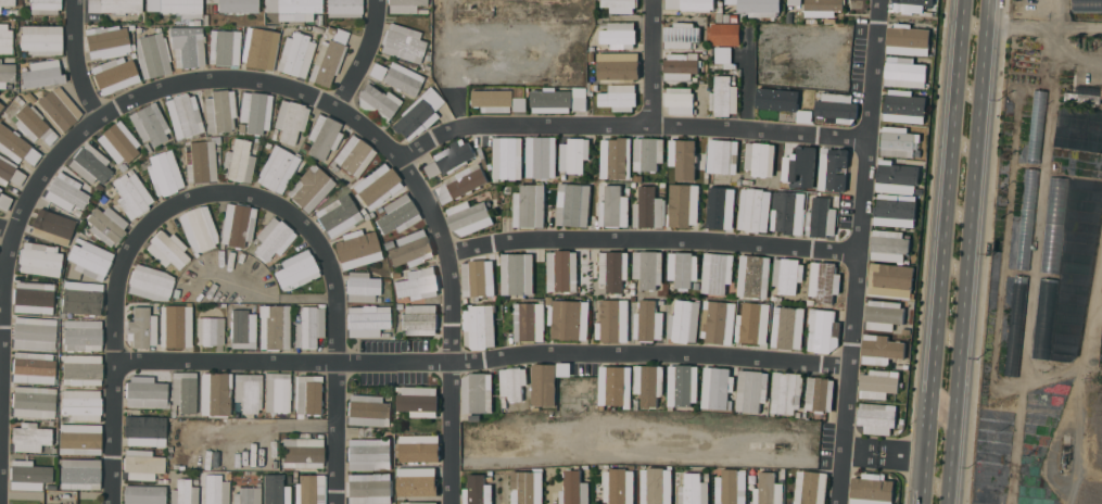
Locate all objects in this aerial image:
building: (7, 2)
building: (794, 2)
building: (691, 4)
building: (45, 5)
building: (114, 5)
building: (236, 5)
building: (620, 5)
building: (823, 5)
building: (907, 5)
building: (1086, 5)
building: (177, 7)
building: (406, 7)
building: (757, 7)
building: (293, 8)
building: (344, 8)
building: (4, 11)
building: (618, 34)
building: (724, 34)
building: (682, 35)
building: (5, 39)
building: (41, 39)
building: (908, 39)
building: (107, 40)
building: (403, 42)
building: (188, 46)
building: (225, 47)
building: (261, 51)
building: (152, 54)
building: (296, 54)
building: (329, 56)
road: (363, 56)
building: (724, 56)
building: (0, 59)
road: (72, 61)
road: (650, 61)
building: (618, 66)
building: (681, 66)
building: (377, 70)
building: (47, 71)
building: (904, 73)
building: (7, 74)
building: (114, 74)
building: (402, 78)
road: (267, 85)
road: (747, 91)
building: (1085, 94)
building: (724, 96)
building: (618, 97)
building: (499, 99)
building: (559, 99)
building: (680, 100)
building: (777, 100)
building: (378, 103)
building: (1, 105)
building: (904, 106)
building: (836, 108)
building: (59, 109)
building: (220, 111)
building: (256, 111)
building: (805, 113)
building: (418, 114)
building: (185, 115)
building: (290, 119)
building: (150, 123)
building: (34, 124)
road: (521, 124)
building: (1036, 127)
road: (760, 130)
building: (324, 136)
building: (118, 141)
building: (899, 142)
building: (15, 146)
building: (647, 153)
building: (354, 155)
building: (573, 155)
building: (449, 157)
building: (541, 157)
building: (721, 157)
building: (507, 159)
building: (615, 159)
building: (759, 159)
building: (685, 160)
building: (201, 161)
building: (239, 161)
building: (797, 162)
building: (90, 163)
building: (278, 167)
building: (835, 167)
building: (10, 172)
building: (164, 173)
building: (896, 177)
building: (461, 182)
building: (378, 185)
building: (311, 187)
building: (0, 188)
building: (0, 190)
building: (66, 192)
road: (226, 192)
building: (131, 193)
building: (4, 200)
building: (572, 204)
building: (683, 205)
building: (529, 206)
building: (613, 207)
building: (647, 209)
building: (719, 210)
building: (753, 210)
building: (895, 210)
building: (788, 212)
building: (338, 214)
building: (397, 214)
building: (468, 217)
building: (821, 218)
building: (1026, 218)
building: (238, 224)
building: (51, 225)
building: (106, 225)
building: (1054, 225)
building: (199, 228)
road: (5, 230)
building: (274, 238)
road: (653, 241)
building: (889, 245)
building: (357, 248)
building: (168, 249)
building: (410, 249)
road: (942, 251)
road: (861, 252)
road: (968, 252)
building: (39, 259)
building: (90, 259)
building: (647, 268)
building: (296, 269)
building: (682, 269)
building: (561, 270)
building: (612, 270)
building: (717, 273)
building: (516, 274)
building: (787, 275)
building: (753, 277)
building: (477, 278)
building: (824, 281)
building: (890, 281)
building: (150, 282)
building: (418, 283)
building: (362, 286)
building: (34, 297)
building: (83, 301)
building: (884, 314)
building: (1044, 318)
building: (419, 319)
building: (568, 319)
building: (368, 320)
building: (528, 322)
building: (612, 322)
building: (648, 322)
building: (684, 322)
building: (719, 323)
building: (177, 325)
building: (480, 325)
building: (1015, 325)
building: (275, 326)
building: (309, 326)
building: (142, 327)
building: (787, 327)
building: (243, 328)
building: (210, 330)
building: (753, 330)
building: (823, 330)
building: (35, 332)
building: (83, 335)
building: (881, 349)
road: (650, 355)
road: (224, 360)
road: (393, 360)
building: (33, 367)
building: (81, 368)
building: (562, 369)
building: (511, 383)
building: (648, 383)
building: (543, 385)
building: (877, 385)
building: (615, 386)
building: (682, 386)
building: (715, 387)
building: (751, 390)
building: (145, 391)
building: (249, 391)
building: (278, 391)
building: (183, 392)
building: (477, 392)
building: (786, 392)
building: (216, 393)
building: (819, 394)
building: (308, 395)
building: (34, 401)
building: (418, 401)
building: (81, 403)
building: (368, 409)
building: (876, 417)
building: (145, 429)
building: (30, 437)
building: (80, 438)
building: (417, 449)
building: (303, 451)
building: (368, 453)
petroleum well: (1064, 456)
building: (142, 464)
building: (79, 472)
building: (28, 475)
building: (420, 481)
building: (618, 486)
building: (655, 486)
building: (527, 487)
building: (730, 487)
building: (368, 488)
building: (573, 488)
building: (810, 488)
building: (216, 489)
building: (276, 489)
building: (693, 489)
building: (767, 489)
building: (872, 489)
building: (308, 490)
building: (478, 490)
building: (185, 492)
building: (144, 494)
building: (248, 495)
building: (418, 503)

